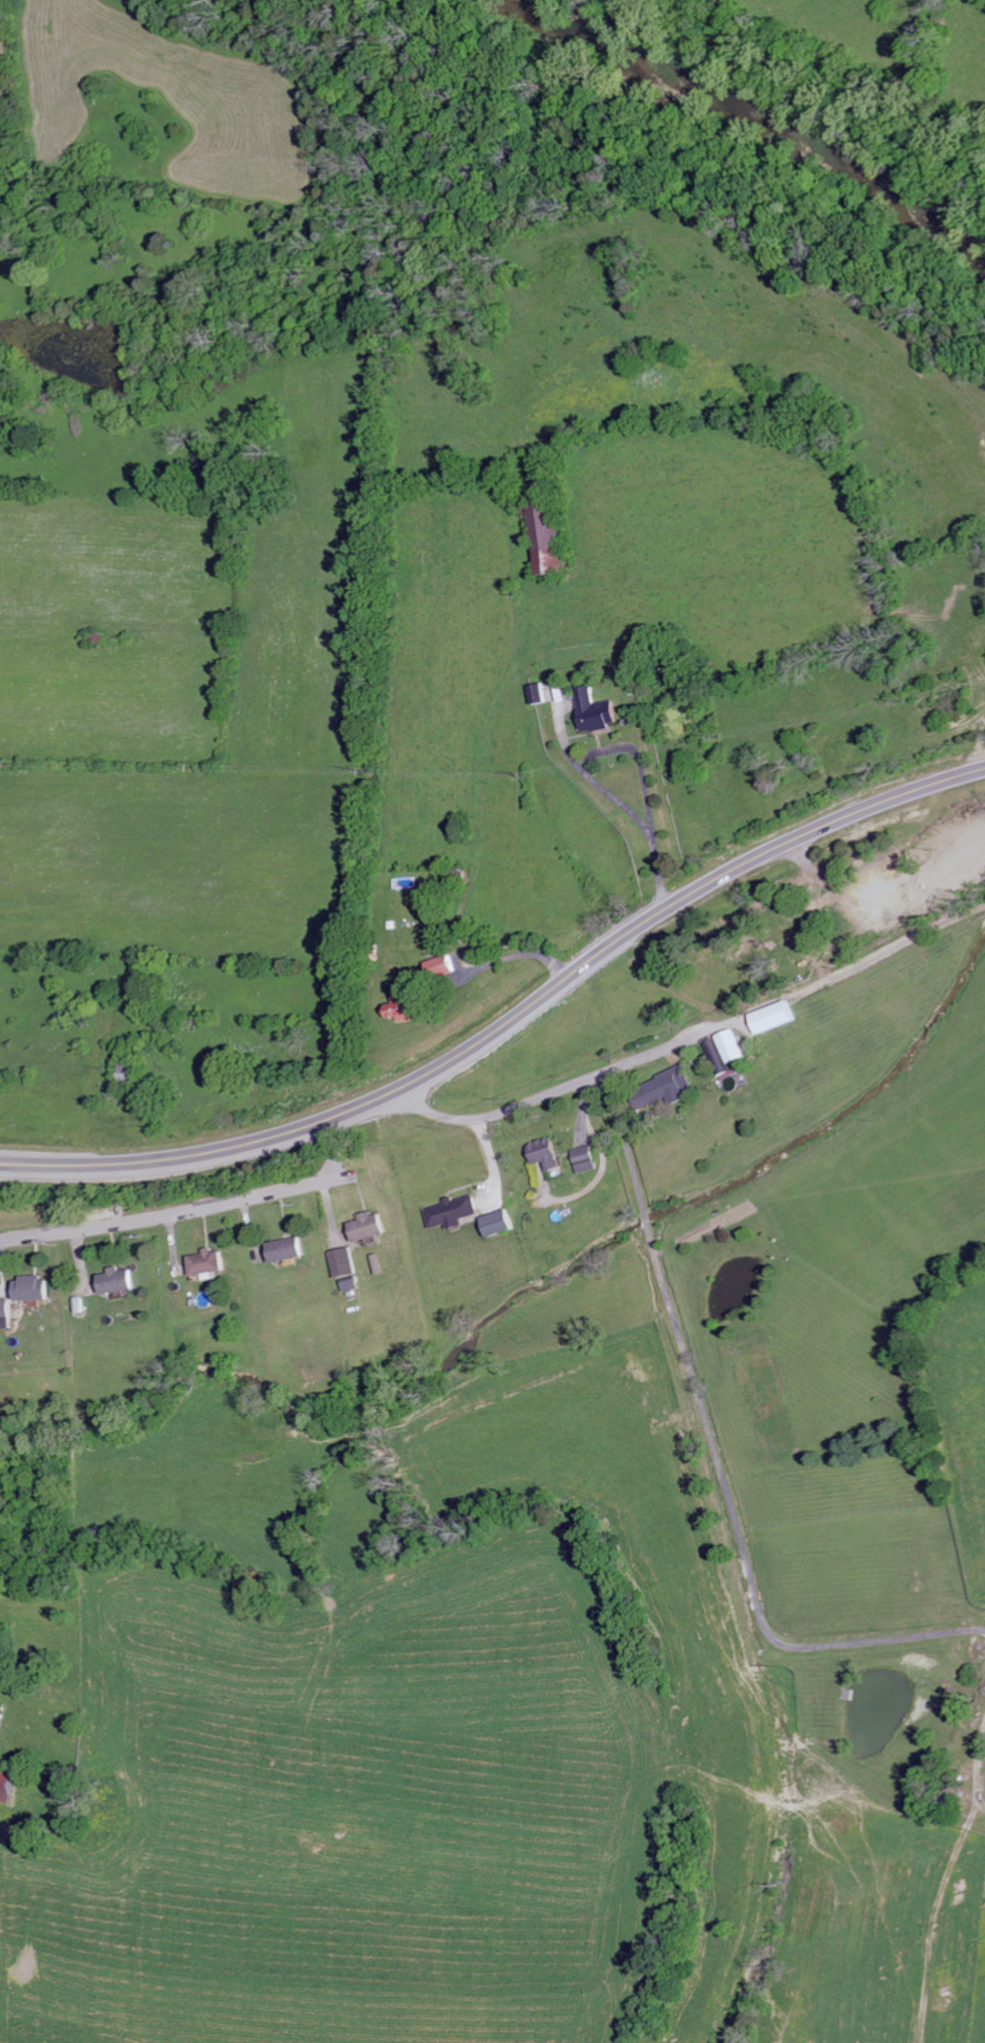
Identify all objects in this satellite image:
building: (546, 537)
building: (594, 711)
road: (635, 757)
road: (617, 801)
road: (501, 957)
building: (439, 967)
building: (400, 1004)
building: (773, 1017)
road: (509, 1021)
building: (731, 1046)
building: (660, 1090)
road: (538, 1098)
building: (544, 1154)
building: (584, 1159)
building: (450, 1212)
road: (175, 1213)
building: (497, 1223)
building: (366, 1227)
building: (285, 1250)
building: (206, 1263)
building: (341, 1263)
building: (115, 1281)
building: (30, 1289)
building: (4, 1314)
road: (758, 1614)
building: (6, 1785)

